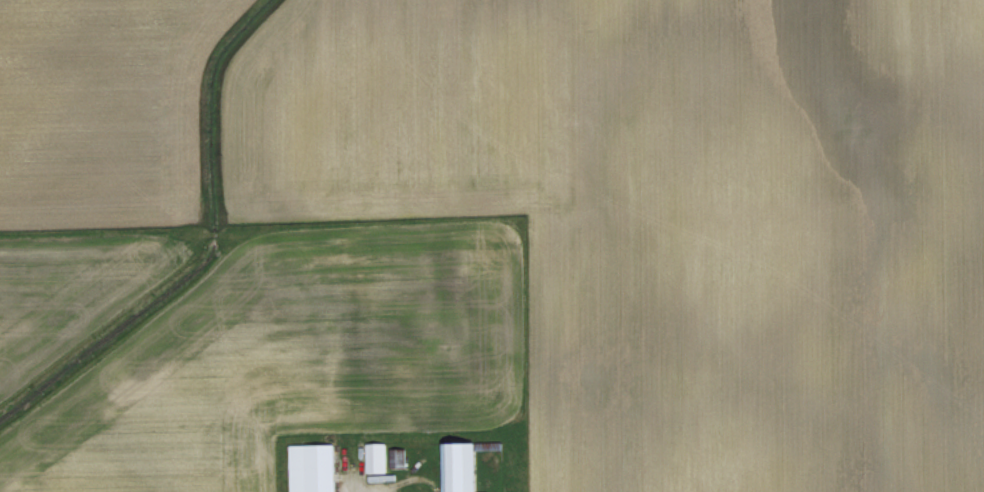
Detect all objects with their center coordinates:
building: (377, 455)
building: (462, 466)
building: (314, 467)

